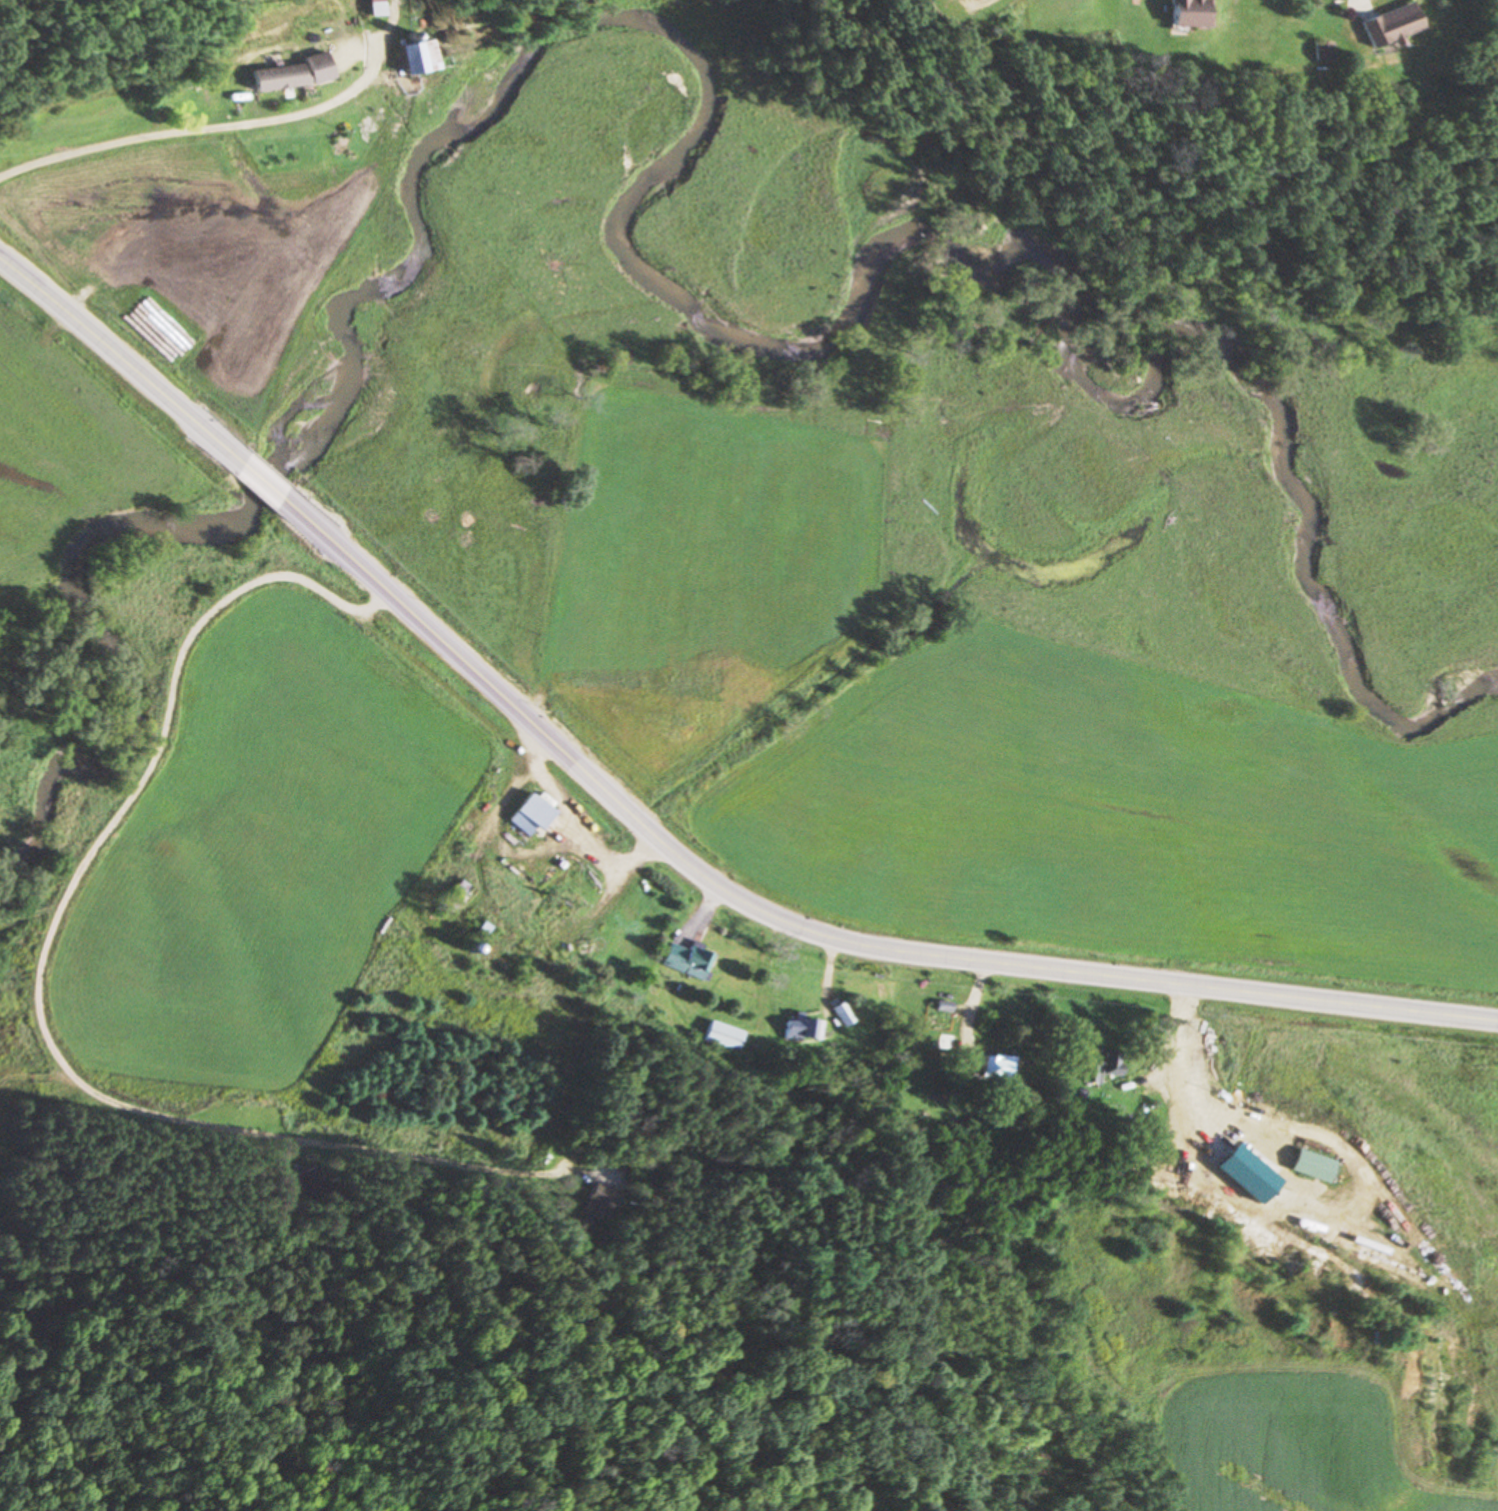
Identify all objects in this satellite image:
building: (369, 8)
building: (1180, 13)
building: (1385, 25)
building: (411, 57)
building: (272, 77)
building: (202, 101)
road: (134, 148)
road: (121, 359)
road: (257, 480)
road: (538, 729)
building: (528, 816)
building: (453, 897)
building: (687, 959)
road: (38, 972)
road: (1155, 985)
building: (940, 1008)
building: (841, 1015)
building: (800, 1030)
building: (722, 1037)
building: (1095, 1067)
building: (994, 1068)
building: (1308, 1167)
building: (316, 1185)
building: (596, 1204)

